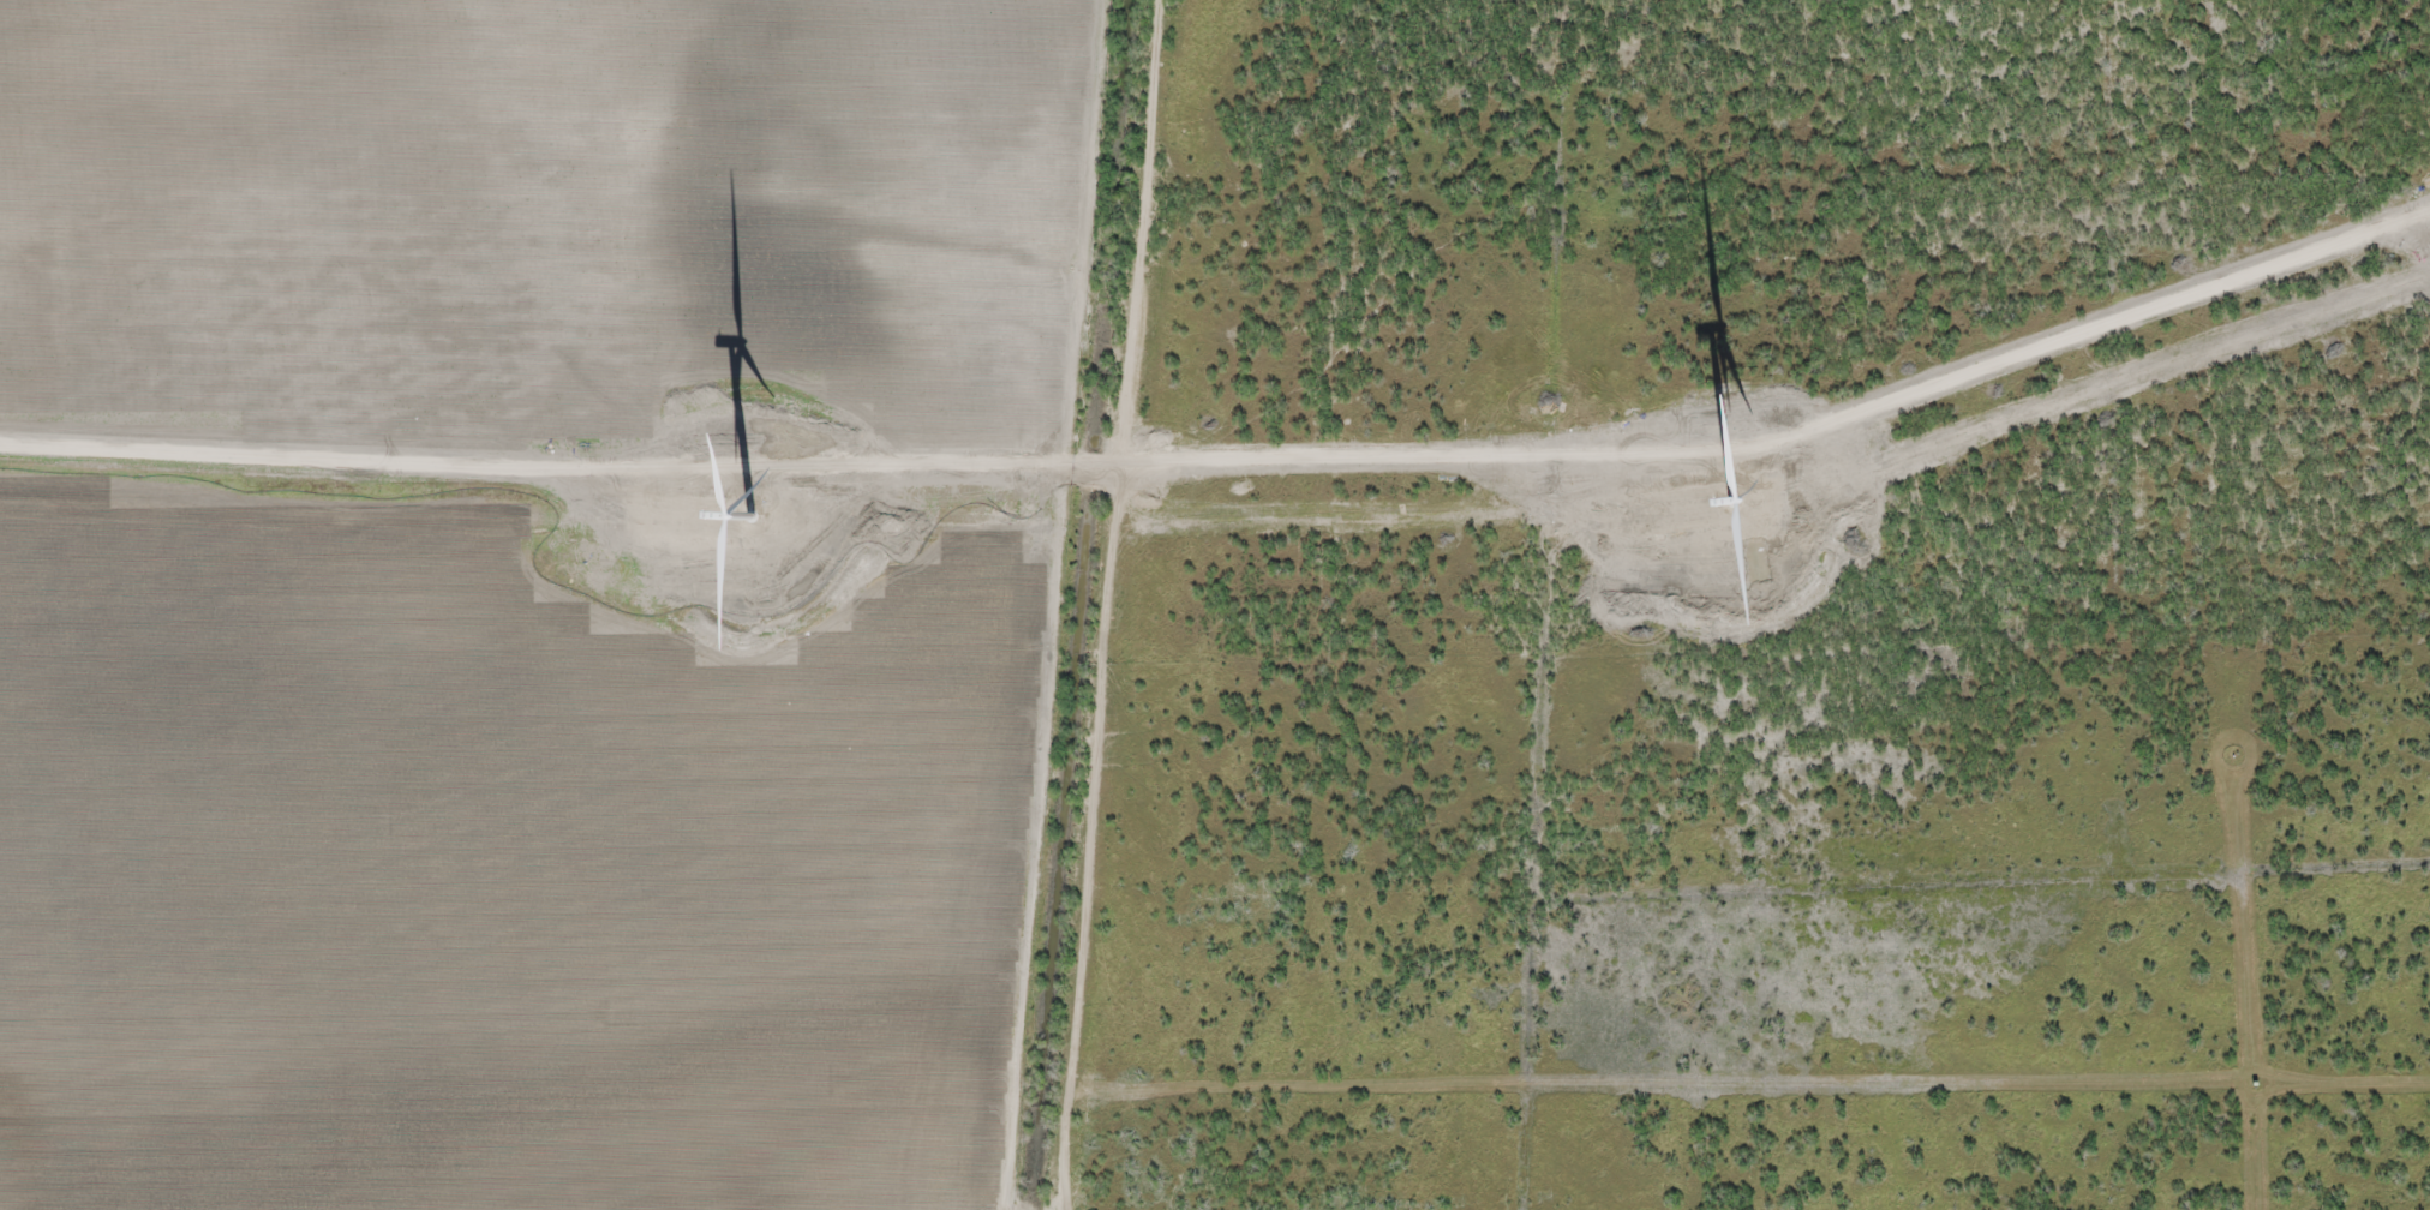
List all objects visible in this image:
road: (1234, 462)
wind turbine: (1731, 502)
wind turbine: (752, 516)

